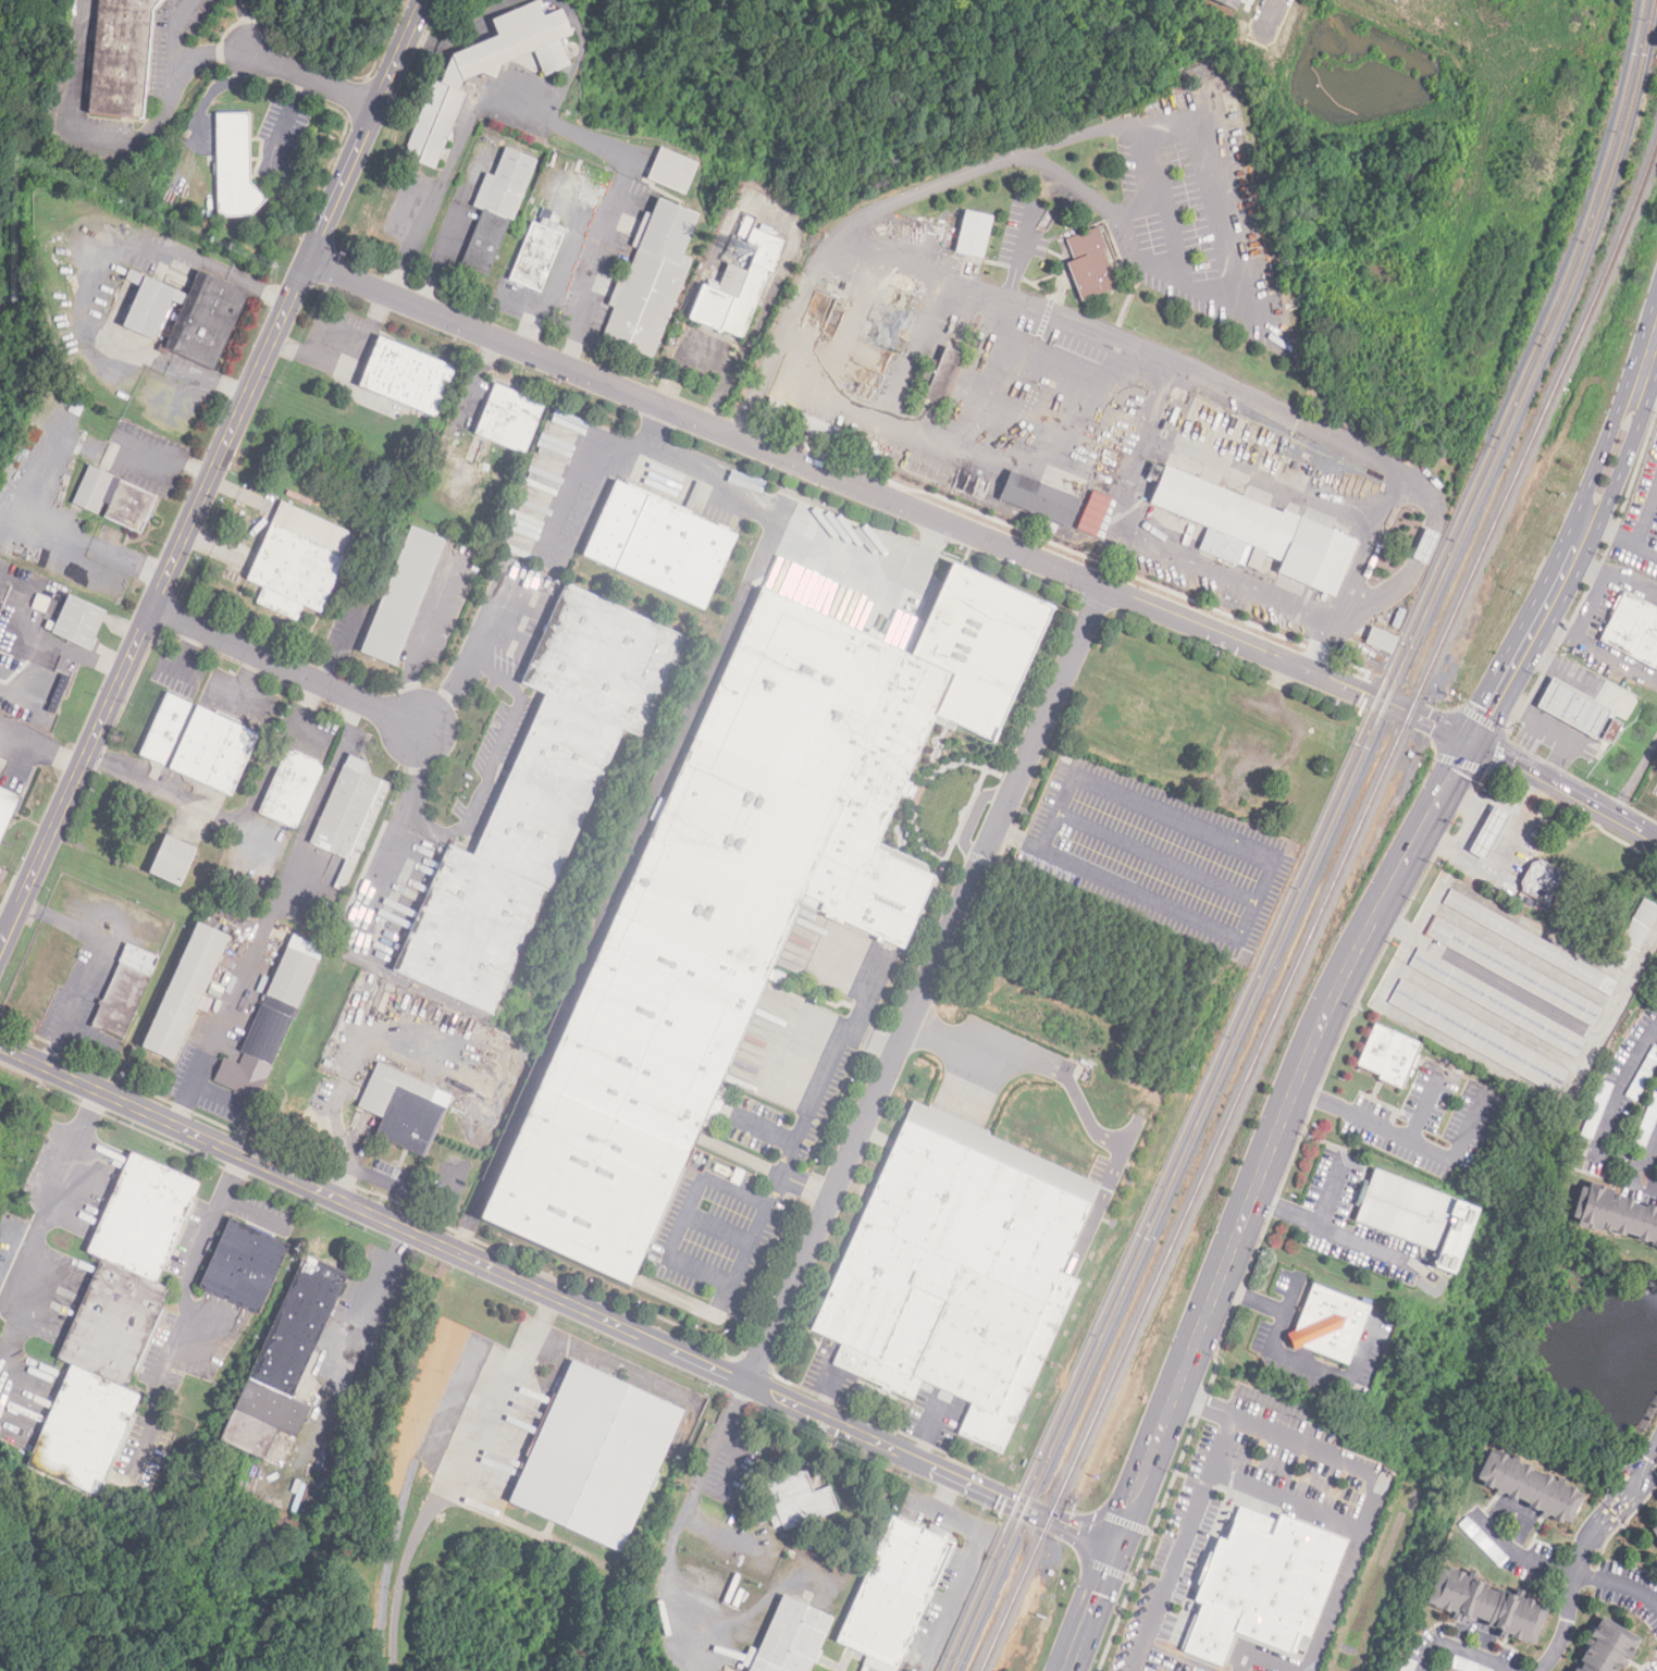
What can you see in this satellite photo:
building: (1227, 2)
road: (1269, 10)
road: (244, 26)
building: (121, 58)
road: (212, 58)
building: (487, 72)
road: (311, 79)
road: (213, 89)
road: (523, 111)
road: (289, 112)
road: (118, 137)
building: (235, 169)
building: (670, 172)
road: (1524, 186)
building: (497, 208)
road: (1111, 210)
road: (417, 231)
road: (446, 235)
building: (974, 235)
road: (116, 243)
building: (537, 255)
road: (579, 265)
building: (1091, 265)
building: (652, 280)
building: (740, 287)
road: (423, 309)
building: (188, 317)
road: (574, 320)
road: (915, 347)
building: (941, 375)
building: (407, 377)
road: (209, 381)
road: (1220, 383)
road: (1647, 388)
road: (1157, 397)
building: (510, 419)
building: (815, 428)
road: (963, 448)
road: (165, 454)
road: (211, 474)
road: (582, 474)
road: (1133, 474)
road: (32, 484)
building: (1016, 491)
building: (115, 499)
building: (1055, 503)
road: (787, 511)
building: (1093, 512)
road: (1647, 516)
building: (1224, 518)
road: (1615, 528)
road: (1580, 537)
building: (660, 546)
road: (1009, 546)
road: (1647, 546)
building: (1426, 547)
road: (129, 557)
building: (294, 573)
road: (1615, 575)
road: (1593, 579)
building: (403, 596)
road: (1592, 605)
road: (28, 606)
building: (78, 623)
building: (1634, 632)
road: (425, 638)
building: (1382, 640)
building: (979, 644)
road: (342, 647)
road: (1598, 649)
road: (187, 652)
road: (87, 656)
road: (287, 669)
road: (34, 676)
road: (245, 684)
road: (230, 685)
road: (1516, 705)
building: (1572, 707)
gas station: (1573, 709)
road: (1530, 715)
building: (165, 730)
building: (1612, 732)
traffic signals: (1476, 740)
road: (1528, 742)
building: (214, 752)
road: (1497, 755)
road: (494, 762)
road: (1633, 775)
building: (292, 789)
road: (1566, 790)
building: (542, 795)
road: (1463, 795)
road: (1476, 805)
building: (7, 810)
road: (1056, 810)
building: (349, 815)
road: (235, 820)
gas station: (1487, 828)
building: (1488, 831)
road: (1213, 833)
railway: (1313, 842)
railway: (1324, 842)
road: (1499, 855)
road: (1155, 856)
building: (173, 862)
road: (387, 862)
road: (619, 881)
road: (1117, 882)
building: (1544, 882)
railway: (1327, 904)
building: (720, 923)
road: (85, 934)
building: (1635, 937)
building: (1529, 941)
road: (1643, 955)
building: (1512, 970)
road: (245, 973)
road: (927, 985)
building: (125, 992)
building: (185, 992)
building: (1496, 1002)
road: (1605, 1026)
building: (269, 1027)
road: (64, 1031)
building: (1476, 1036)
building: (1389, 1056)
building: (1643, 1076)
road: (826, 1078)
road: (190, 1087)
road: (1077, 1098)
road: (1425, 1106)
building: (403, 1110)
building: (1597, 1111)
road: (1352, 1115)
road: (1607, 1119)
building: (1647, 1126)
road: (1277, 1136)
road: (1458, 1149)
building: (1001, 1153)
road: (349, 1162)
road: (347, 1165)
building: (716, 1169)
road: (1331, 1193)
road: (52, 1198)
building: (1406, 1210)
road: (1272, 1212)
building: (1615, 1214)
road: (1333, 1230)
road: (188, 1261)
building: (245, 1266)
road: (708, 1275)
building: (955, 1282)
road: (1294, 1294)
road: (557, 1298)
road: (369, 1317)
building: (113, 1325)
building: (1328, 1329)
road: (1285, 1360)
building: (285, 1362)
road: (318, 1432)
building: (596, 1459)
road: (1373, 1474)
road: (447, 1475)
road: (1637, 1478)
road: (702, 1480)
building: (1530, 1488)
road: (1285, 1498)
building: (801, 1502)
road: (1123, 1522)
building: (1655, 1526)
building: (1655, 1533)
road: (1087, 1535)
building: (1484, 1543)
road: (1179, 1544)
traffic signals: (1115, 1549)
road: (972, 1551)
road: (1565, 1568)
road: (1105, 1570)
building: (1262, 1586)
road: (1572, 1588)
building: (895, 1594)
building: (1487, 1606)
road: (1091, 1609)
building: (791, 1639)
building: (1608, 1649)
road: (1460, 1650)
road: (1261, 1656)
road: (1180, 1666)
building: (1409, 1666)
building: (1466, 1666)
road: (1299, 1669)

